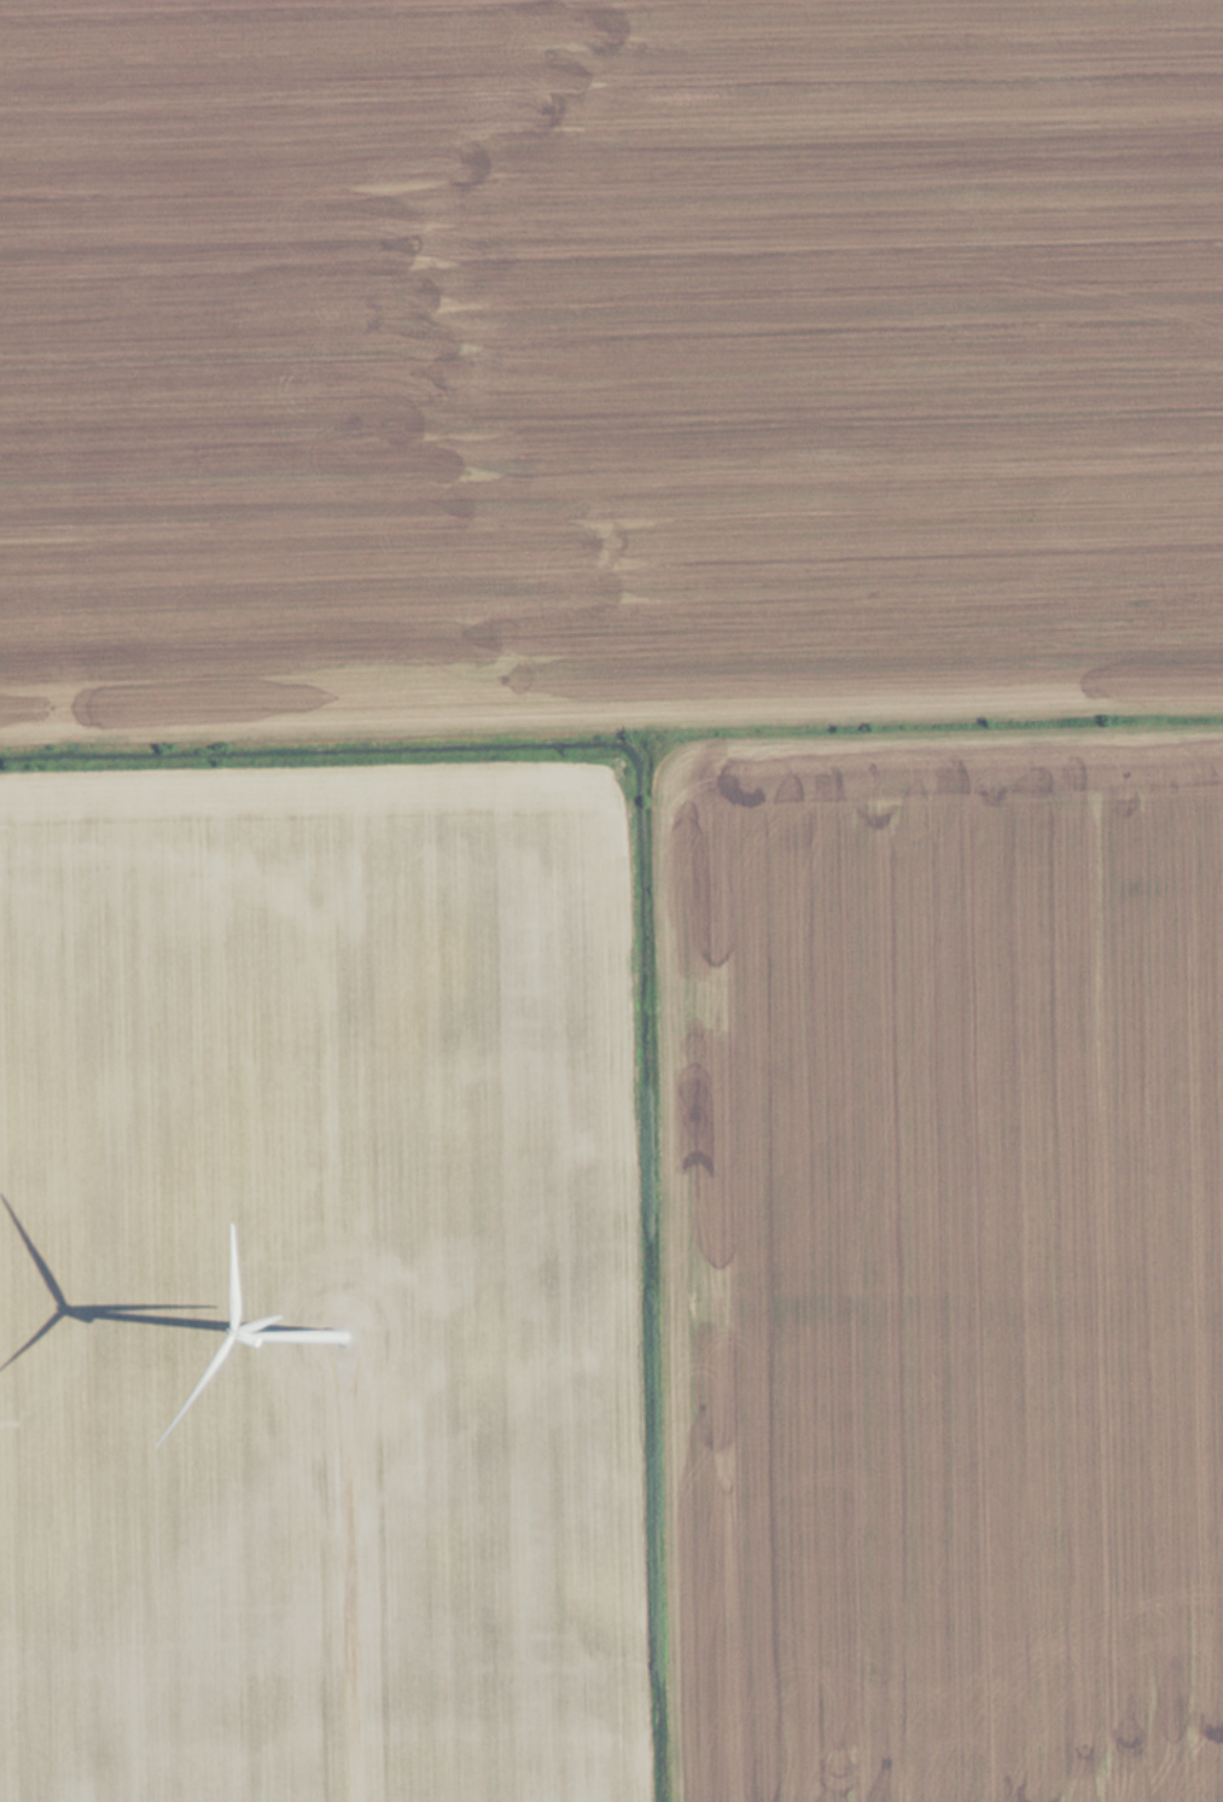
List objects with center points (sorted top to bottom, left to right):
wind turbine: (334, 1324)
road: (349, 1592)

